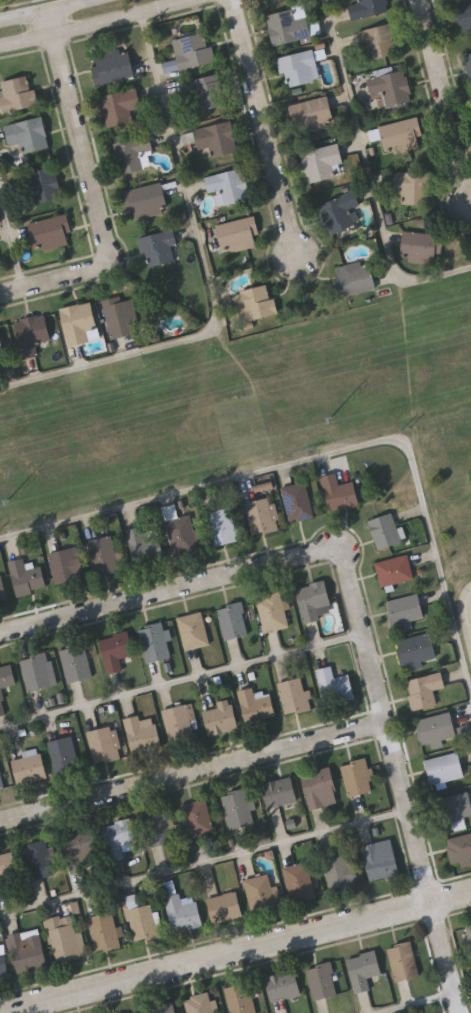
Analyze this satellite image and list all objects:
building: (367, 8)
road: (44, 10)
building: (462, 15)
road: (102, 25)
building: (291, 25)
building: (379, 41)
building: (195, 50)
building: (469, 61)
building: (112, 65)
building: (299, 68)
building: (390, 88)
building: (207, 92)
building: (18, 94)
road: (446, 97)
building: (119, 107)
building: (312, 114)
road: (266, 129)
building: (28, 134)
building: (217, 138)
building: (132, 154)
building: (321, 162)
road: (370, 174)
building: (44, 185)
building: (411, 185)
building: (228, 186)
road: (92, 191)
building: (146, 200)
building: (340, 211)
building: (50, 232)
building: (238, 233)
road: (12, 243)
building: (422, 246)
building: (159, 247)
building: (355, 277)
road: (210, 279)
building: (254, 303)
building: (121, 317)
building: (80, 323)
building: (32, 333)
building: (1, 352)
road: (324, 455)
park: (450, 460)
building: (340, 491)
building: (298, 500)
building: (263, 513)
building: (223, 524)
building: (386, 529)
building: (146, 543)
building: (104, 554)
building: (67, 563)
building: (395, 569)
building: (27, 575)
building: (3, 588)
road: (169, 591)
building: (313, 598)
road: (469, 605)
building: (273, 610)
building: (405, 610)
building: (233, 619)
building: (194, 628)
building: (155, 641)
building: (117, 648)
building: (417, 648)
building: (76, 661)
building: (39, 670)
road: (181, 671)
building: (6, 681)
building: (335, 684)
building: (425, 689)
building: (295, 694)
building: (257, 704)
building: (221, 716)
building: (179, 722)
building: (436, 729)
building: (142, 733)
building: (104, 743)
building: (64, 752)
building: (30, 765)
building: (445, 766)
road: (194, 773)
building: (358, 776)
building: (1, 780)
road: (404, 783)
building: (320, 787)
building: (281, 791)
building: (455, 805)
building: (241, 806)
building: (198, 816)
building: (159, 827)
building: (120, 836)
building: (460, 846)
building: (82, 848)
road: (205, 854)
building: (38, 858)
building: (381, 858)
building: (9, 868)
building: (340, 870)
building: (300, 880)
building: (261, 891)
building: (225, 905)
building: (183, 911)
building: (140, 918)
building: (105, 929)
building: (65, 936)
building: (470, 940)
building: (28, 949)
road: (235, 952)
building: (4, 961)
building: (404, 961)
building: (364, 969)
building: (323, 981)
building: (283, 985)
road: (463, 989)
building: (241, 998)
road: (400, 999)
building: (199, 1003)
building: (163, 1008)
road: (372, 1009)

